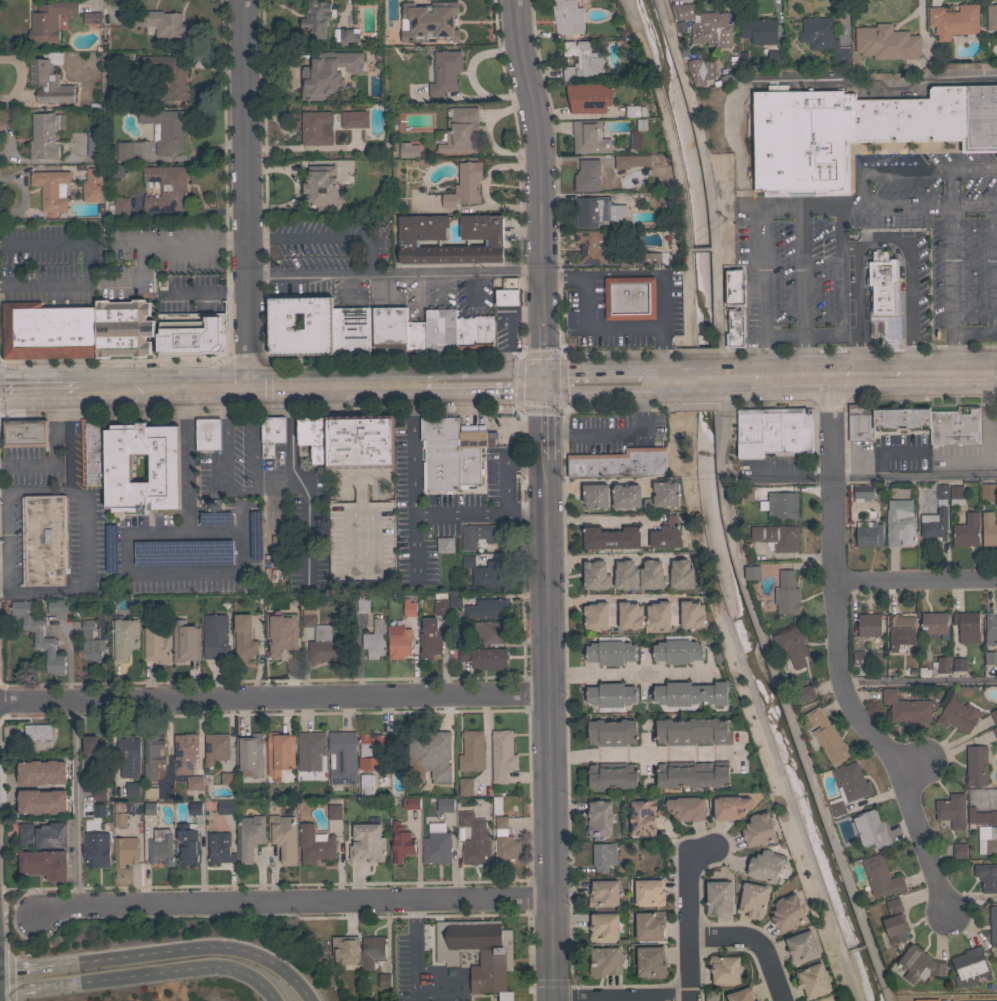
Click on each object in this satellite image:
building: (683, 11)
building: (567, 16)
building: (991, 17)
building: (92, 18)
building: (317, 18)
road: (664, 19)
building: (49, 20)
building: (430, 21)
building: (954, 21)
building: (160, 23)
building: (712, 29)
building: (759, 31)
building: (349, 35)
building: (823, 38)
building: (886, 42)
building: (775, 57)
building: (581, 60)
building: (701, 71)
building: (327, 73)
building: (445, 73)
building: (168, 76)
building: (49, 79)
road: (820, 79)
building: (588, 98)
building: (632, 111)
building: (353, 119)
road: (666, 119)
building: (316, 128)
building: (165, 130)
building: (460, 131)
building: (636, 134)
building: (45, 135)
building: (589, 137)
road: (701, 141)
building: (852, 141)
building: (94, 143)
building: (406, 150)
building: (124, 151)
road: (194, 153)
building: (631, 161)
road: (914, 169)
building: (117, 171)
building: (587, 176)
building: (92, 185)
building: (464, 185)
road: (952, 186)
building: (166, 188)
building: (322, 188)
building: (52, 189)
road: (540, 189)
road: (247, 193)
road: (797, 206)
building: (119, 207)
building: (597, 211)
road: (231, 239)
building: (422, 239)
road: (129, 241)
building: (590, 246)
road: (711, 247)
road: (700, 248)
road: (689, 249)
building: (655, 258)
building: (627, 261)
road: (87, 267)
road: (995, 267)
road: (394, 270)
road: (623, 273)
road: (386, 283)
road: (440, 283)
building: (881, 283)
road: (350, 285)
building: (734, 286)
road: (420, 287)
road: (475, 287)
road: (952, 287)
road: (801, 290)
road: (205, 292)
building: (508, 292)
road: (688, 296)
road: (908, 296)
road: (859, 297)
building: (629, 298)
road: (717, 311)
building: (318, 321)
road: (605, 325)
building: (123, 328)
building: (389, 328)
building: (350, 330)
building: (440, 330)
building: (735, 330)
building: (47, 331)
building: (483, 332)
road: (975, 332)
building: (190, 333)
building: (464, 334)
building: (415, 338)
road: (779, 349)
road: (394, 358)
road: (114, 360)
road: (247, 360)
road: (942, 372)
road: (596, 374)
road: (858, 374)
road: (789, 375)
road: (734, 376)
road: (698, 378)
road: (662, 380)
traffic signals: (547, 382)
road: (485, 383)
road: (330, 385)
road: (416, 385)
road: (217, 387)
road: (178, 388)
road: (139, 389)
road: (53, 390)
road: (596, 391)
road: (922, 396)
road: (830, 398)
road: (686, 403)
road: (60, 404)
road: (524, 406)
building: (901, 417)
road: (546, 420)
building: (860, 422)
building: (953, 427)
road: (618, 429)
building: (786, 430)
building: (26, 433)
building: (271, 433)
building: (750, 433)
building: (208, 434)
building: (476, 436)
building: (314, 437)
road: (673, 439)
building: (360, 441)
road: (411, 450)
road: (67, 452)
building: (440, 452)
building: (93, 454)
road: (524, 454)
building: (620, 463)
road: (50, 464)
building: (469, 464)
building: (163, 468)
road: (914, 476)
road: (789, 477)
road: (598, 482)
road: (504, 486)
road: (37, 488)
road: (3, 489)
building: (942, 491)
building: (988, 491)
building: (747, 493)
building: (862, 493)
building: (666, 494)
road: (244, 495)
building: (955, 495)
building: (595, 496)
building: (626, 496)
building: (645, 504)
building: (783, 505)
road: (480, 516)
road: (598, 520)
building: (996, 520)
building: (897, 523)
building: (934, 524)
building: (988, 529)
road: (214, 530)
building: (966, 530)
building: (666, 533)
building: (869, 534)
building: (479, 535)
building: (777, 536)
building: (611, 538)
road: (6, 539)
building: (44, 539)
road: (128, 540)
building: (444, 544)
road: (414, 548)
road: (608, 557)
building: (626, 572)
building: (752, 572)
road: (84, 573)
building: (486, 573)
building: (681, 574)
building: (595, 575)
road: (3, 577)
road: (915, 579)
building: (787, 593)
building: (455, 600)
building: (293, 604)
building: (58, 606)
building: (362, 606)
building: (441, 607)
building: (409, 608)
building: (489, 608)
building: (630, 610)
building: (692, 614)
building: (596, 615)
building: (935, 624)
building: (869, 625)
building: (967, 626)
building: (990, 629)
building: (490, 631)
building: (901, 631)
building: (39, 637)
building: (123, 638)
building: (216, 638)
building: (244, 638)
building: (430, 638)
building: (374, 639)
building: (281, 640)
building: (321, 640)
building: (185, 642)
building: (398, 642)
building: (90, 643)
building: (155, 644)
building: (792, 646)
building: (677, 651)
building: (610, 652)
road: (839, 656)
building: (858, 657)
building: (484, 658)
building: (990, 658)
building: (941, 664)
building: (959, 664)
road: (626, 673)
road: (919, 681)
road: (783, 693)
building: (691, 694)
building: (803, 694)
building: (611, 695)
road: (273, 697)
building: (906, 708)
road: (757, 709)
building: (994, 715)
building: (958, 716)
road: (549, 730)
building: (693, 731)
building: (995, 731)
building: (37, 732)
building: (612, 732)
building: (828, 737)
building: (435, 745)
building: (95, 747)
building: (216, 748)
building: (310, 750)
building: (372, 751)
building: (471, 751)
road: (638, 752)
building: (279, 753)
building: (250, 754)
building: (184, 755)
building: (503, 755)
building: (128, 756)
building: (153, 756)
building: (342, 757)
building: (976, 765)
road: (912, 769)
building: (612, 775)
building: (692, 775)
building: (227, 779)
building: (194, 782)
building: (60, 784)
building: (366, 784)
building: (443, 786)
building: (465, 786)
building: (848, 786)
building: (125, 789)
building: (99, 793)
building: (150, 793)
road: (76, 803)
building: (410, 803)
building: (445, 805)
building: (225, 807)
building: (731, 807)
building: (150, 808)
building: (194, 808)
building: (686, 808)
building: (99, 810)
building: (334, 810)
building: (951, 810)
building: (981, 816)
building: (642, 817)
building: (599, 818)
building: (120, 820)
building: (758, 829)
building: (869, 829)
building: (43, 835)
building: (249, 837)
building: (283, 837)
building: (474, 839)
building: (987, 839)
building: (400, 842)
building: (504, 842)
building: (187, 844)
building: (315, 844)
building: (367, 844)
building: (436, 844)
building: (160, 847)
building: (219, 849)
building: (959, 850)
building: (125, 851)
building: (97, 855)
building: (604, 856)
building: (44, 864)
building: (767, 866)
building: (881, 877)
building: (986, 877)
building: (649, 892)
building: (603, 893)
building: (717, 897)
building: (753, 900)
road: (291, 901)
building: (787, 913)
road: (689, 916)
road: (2, 917)
building: (895, 922)
building: (649, 925)
building: (993, 925)
building: (604, 926)
road: (753, 942)
building: (801, 946)
road: (414, 947)
road: (189, 948)
building: (345, 949)
building: (372, 951)
building: (495, 957)
building: (605, 962)
building: (651, 962)
building: (919, 964)
building: (969, 967)
building: (724, 968)
road: (27, 969)
road: (167, 974)
road: (8, 976)
building: (384, 980)
building: (813, 980)
road: (24, 989)
building: (742, 994)
road: (428, 996)
park: (948, 996)

